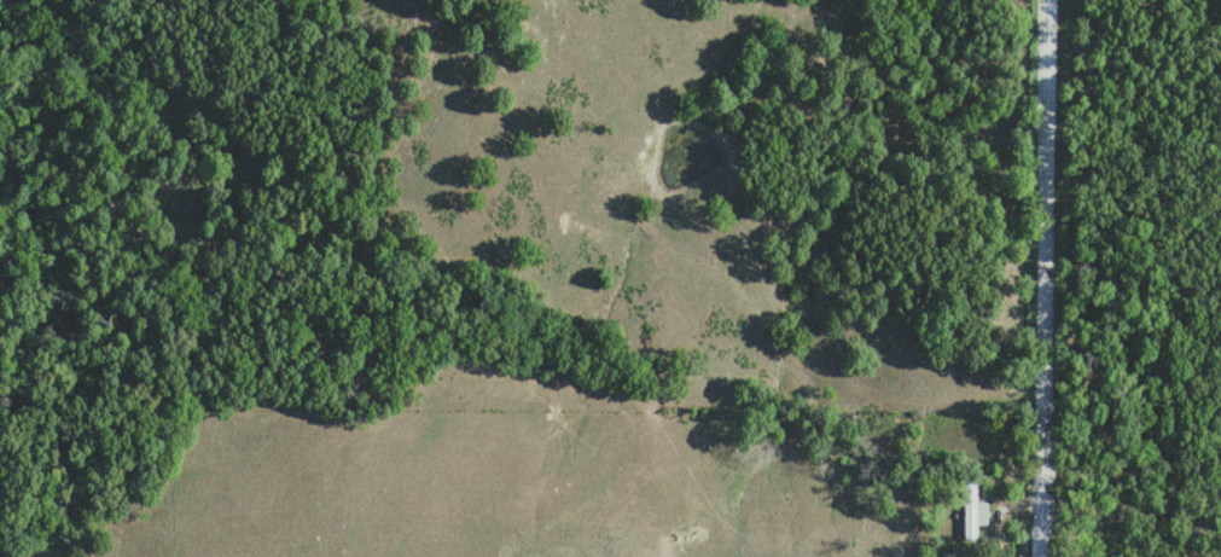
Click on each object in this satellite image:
road: (1041, 278)
building: (973, 509)

